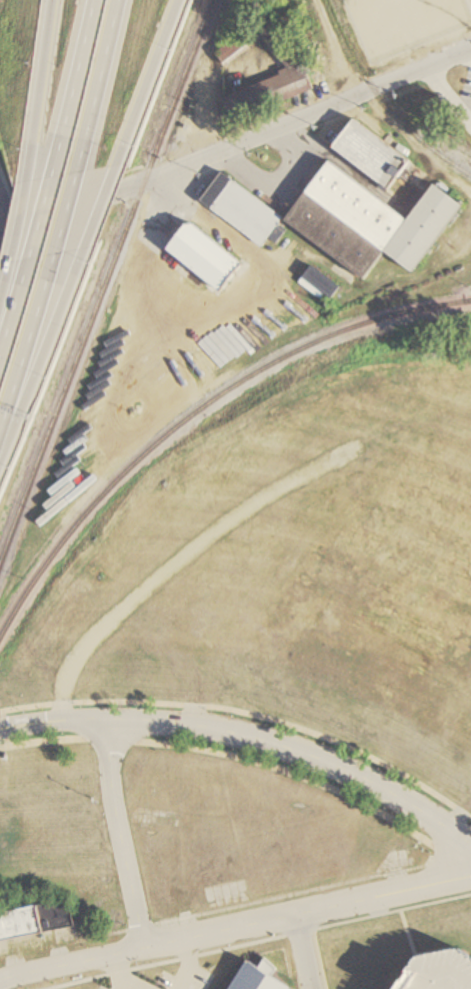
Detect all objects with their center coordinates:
building: (407, 23)
power substation: (409, 27)
road: (335, 47)
building: (292, 65)
road: (151, 82)
parking lot: (466, 85)
road: (99, 86)
road: (72, 88)
road: (39, 90)
road: (448, 97)
railway: (382, 100)
road: (235, 143)
railway: (452, 144)
building: (367, 152)
road: (280, 180)
road: (76, 191)
road: (104, 206)
building: (239, 207)
road: (67, 212)
road: (40, 217)
building: (367, 220)
road: (19, 221)
road: (3, 226)
building: (203, 254)
railway: (106, 282)
road: (5, 288)
road: (15, 303)
road: (234, 304)
road: (29, 350)
road: (45, 359)
railway: (195, 413)
road: (248, 714)
road: (4, 728)
road: (247, 736)
road: (3, 747)
road: (251, 760)
road: (119, 833)
road: (292, 894)
building: (36, 920)
road: (236, 925)
road: (262, 942)
road: (302, 951)
road: (319, 960)
road: (188, 964)
road: (121, 971)
building: (441, 974)
parking garage: (441, 974)
parking lot: (184, 978)
building: (256, 979)
road: (1, 980)
road: (131, 986)
parking lot: (102, 988)

